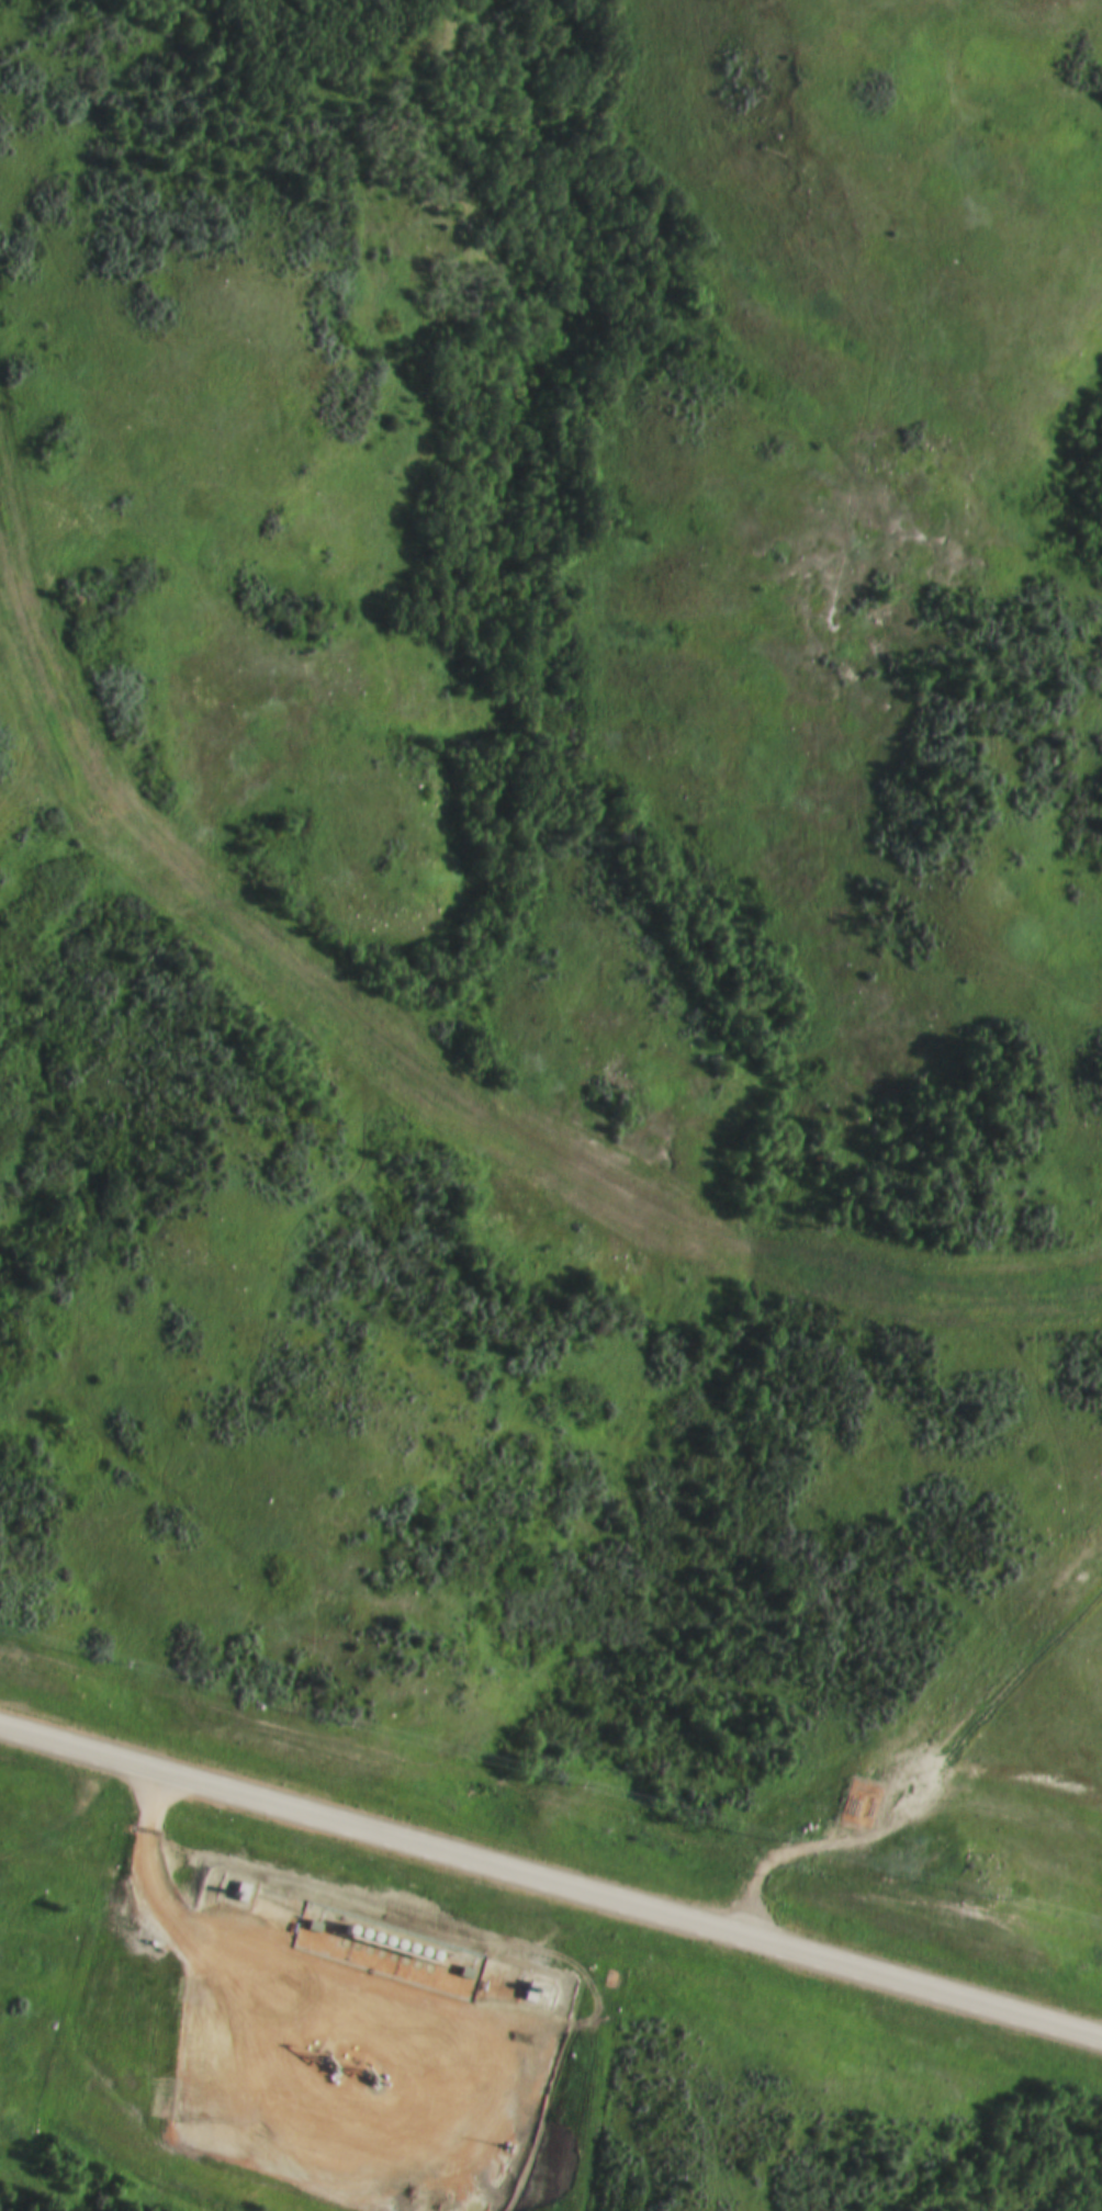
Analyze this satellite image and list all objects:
road: (549, 1884)
petroleum well: (322, 2072)
petroleum well: (361, 2078)

